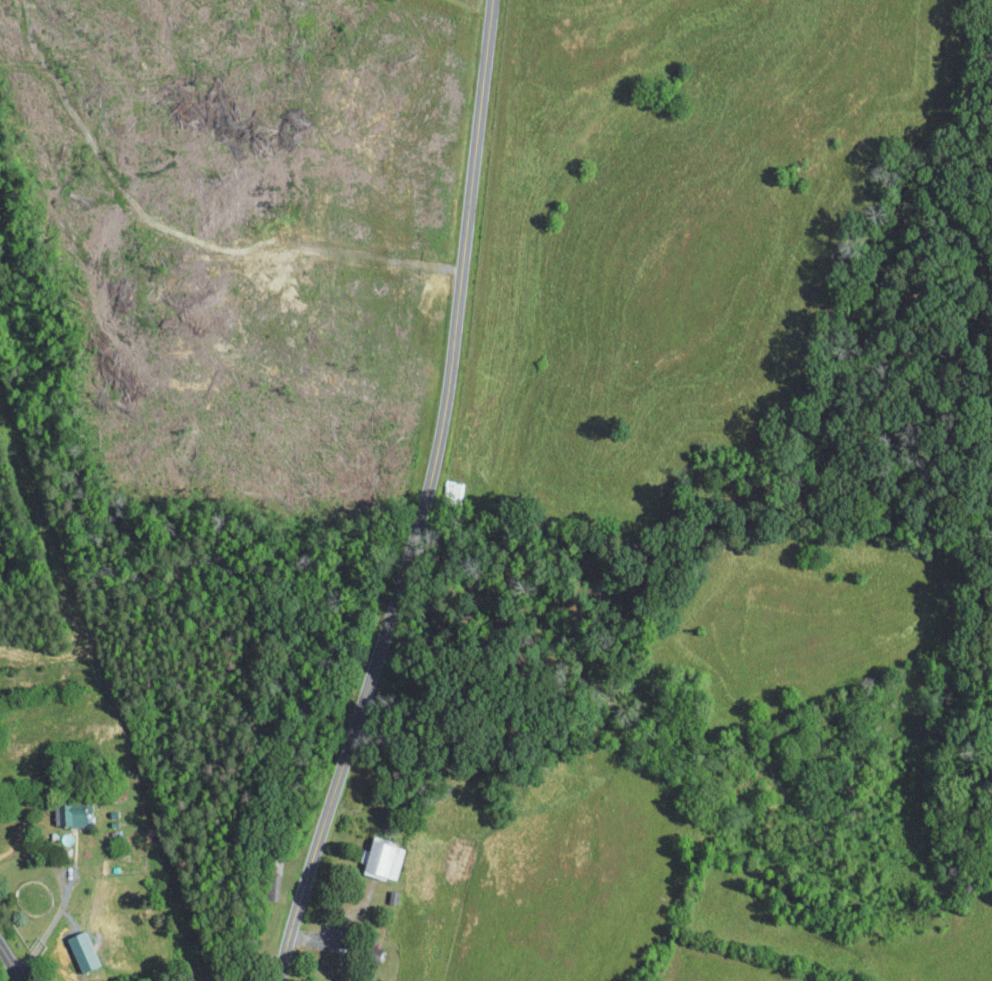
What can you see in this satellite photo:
road: (426, 498)
building: (68, 814)
building: (382, 858)
road: (53, 920)
building: (81, 950)
building: (372, 953)
road: (14, 960)

